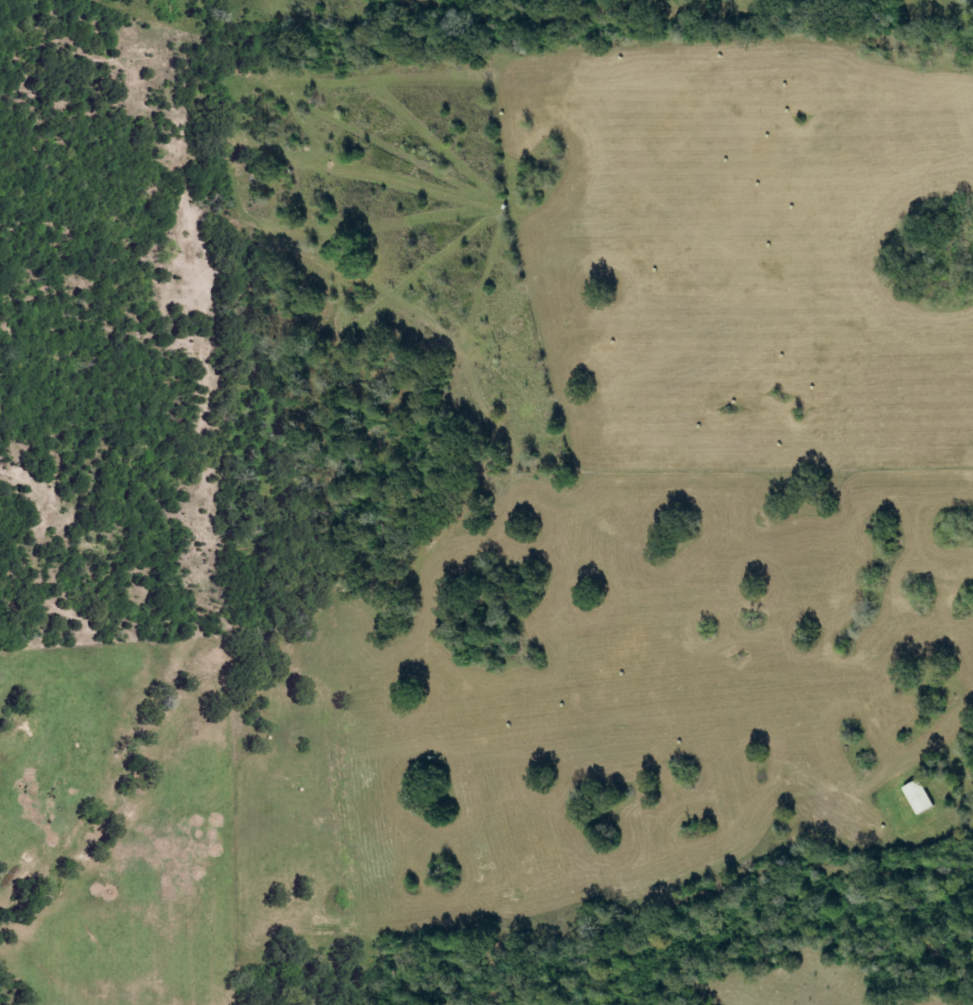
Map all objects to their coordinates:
building: (921, 797)

